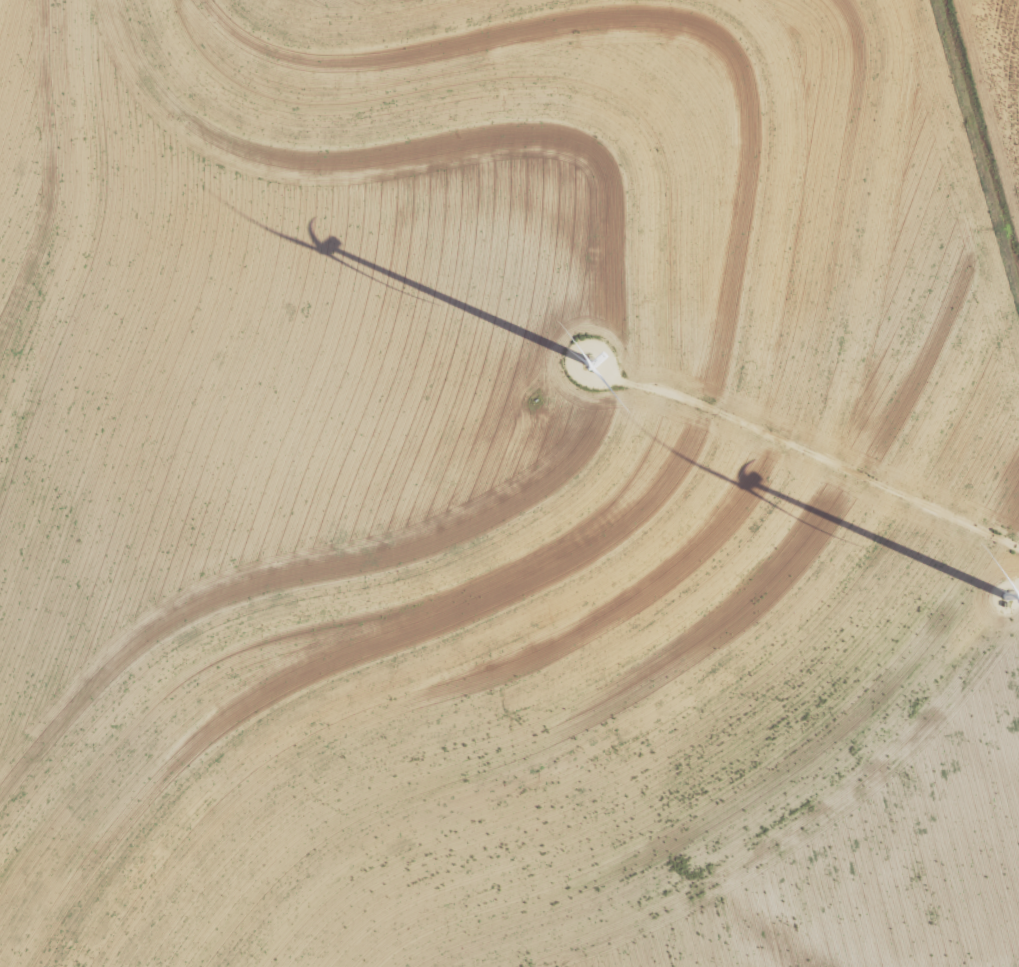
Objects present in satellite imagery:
wind turbine: (585, 328)
wind turbine: (1001, 583)

